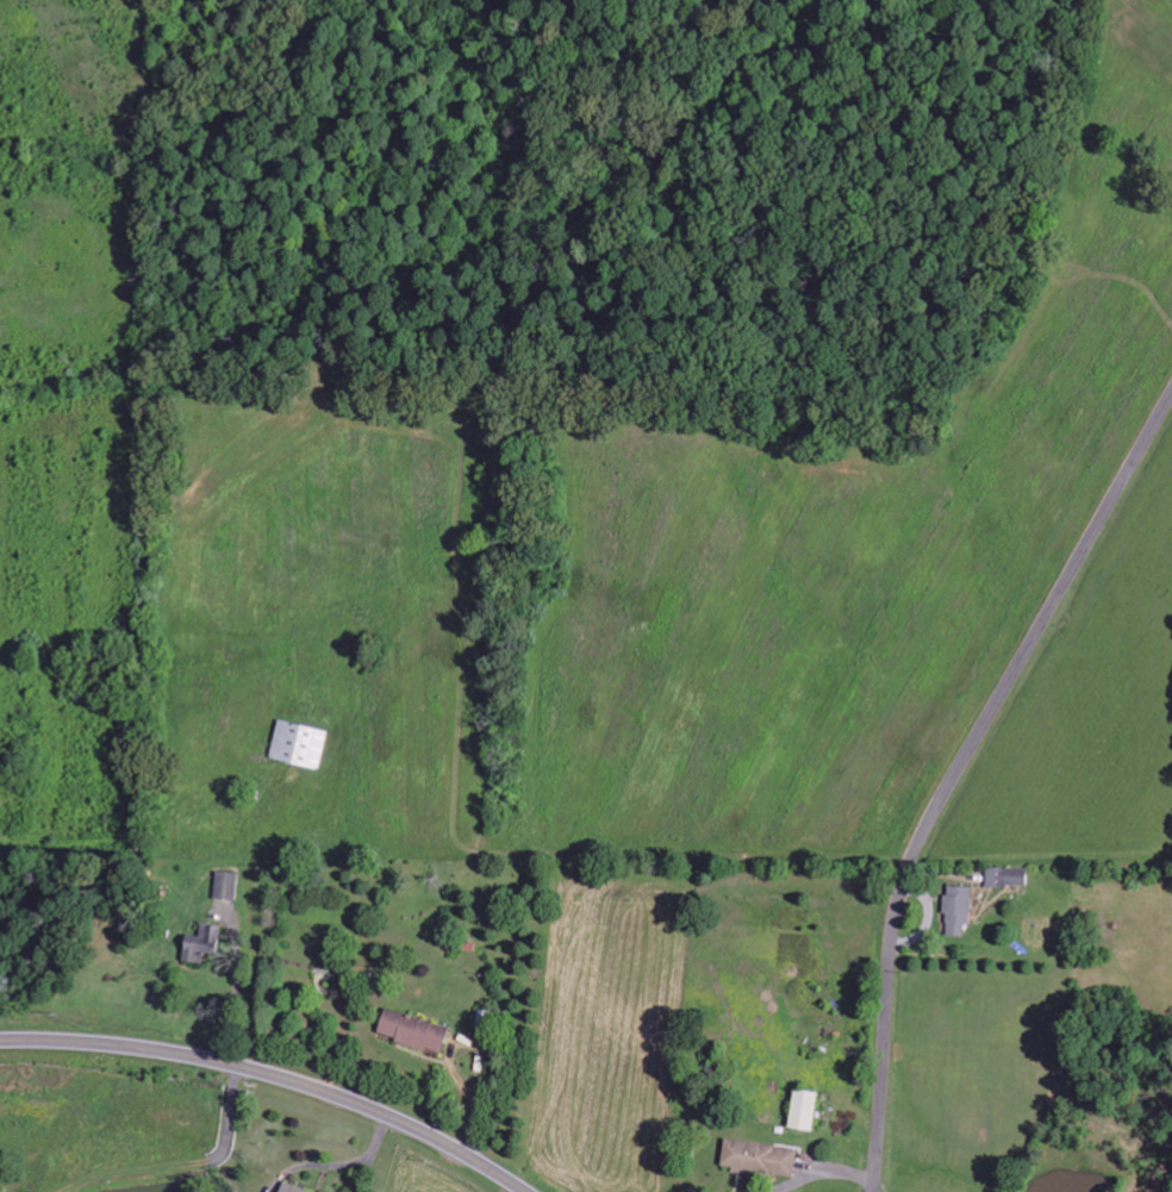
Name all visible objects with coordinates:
building: (298, 743)
road: (958, 773)
building: (1005, 875)
building: (225, 885)
building: (956, 909)
building: (201, 942)
building: (411, 1030)
road: (273, 1076)
building: (802, 1109)
building: (759, 1157)
building: (289, 1187)

